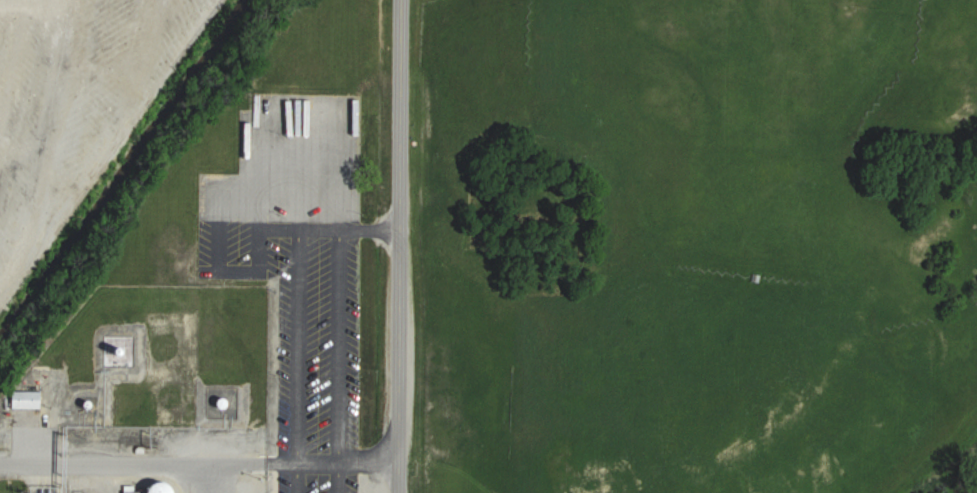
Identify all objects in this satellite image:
road: (319, 98)
road: (261, 145)
road: (331, 227)
road: (219, 243)
road: (400, 246)
building: (29, 399)
road: (198, 463)

